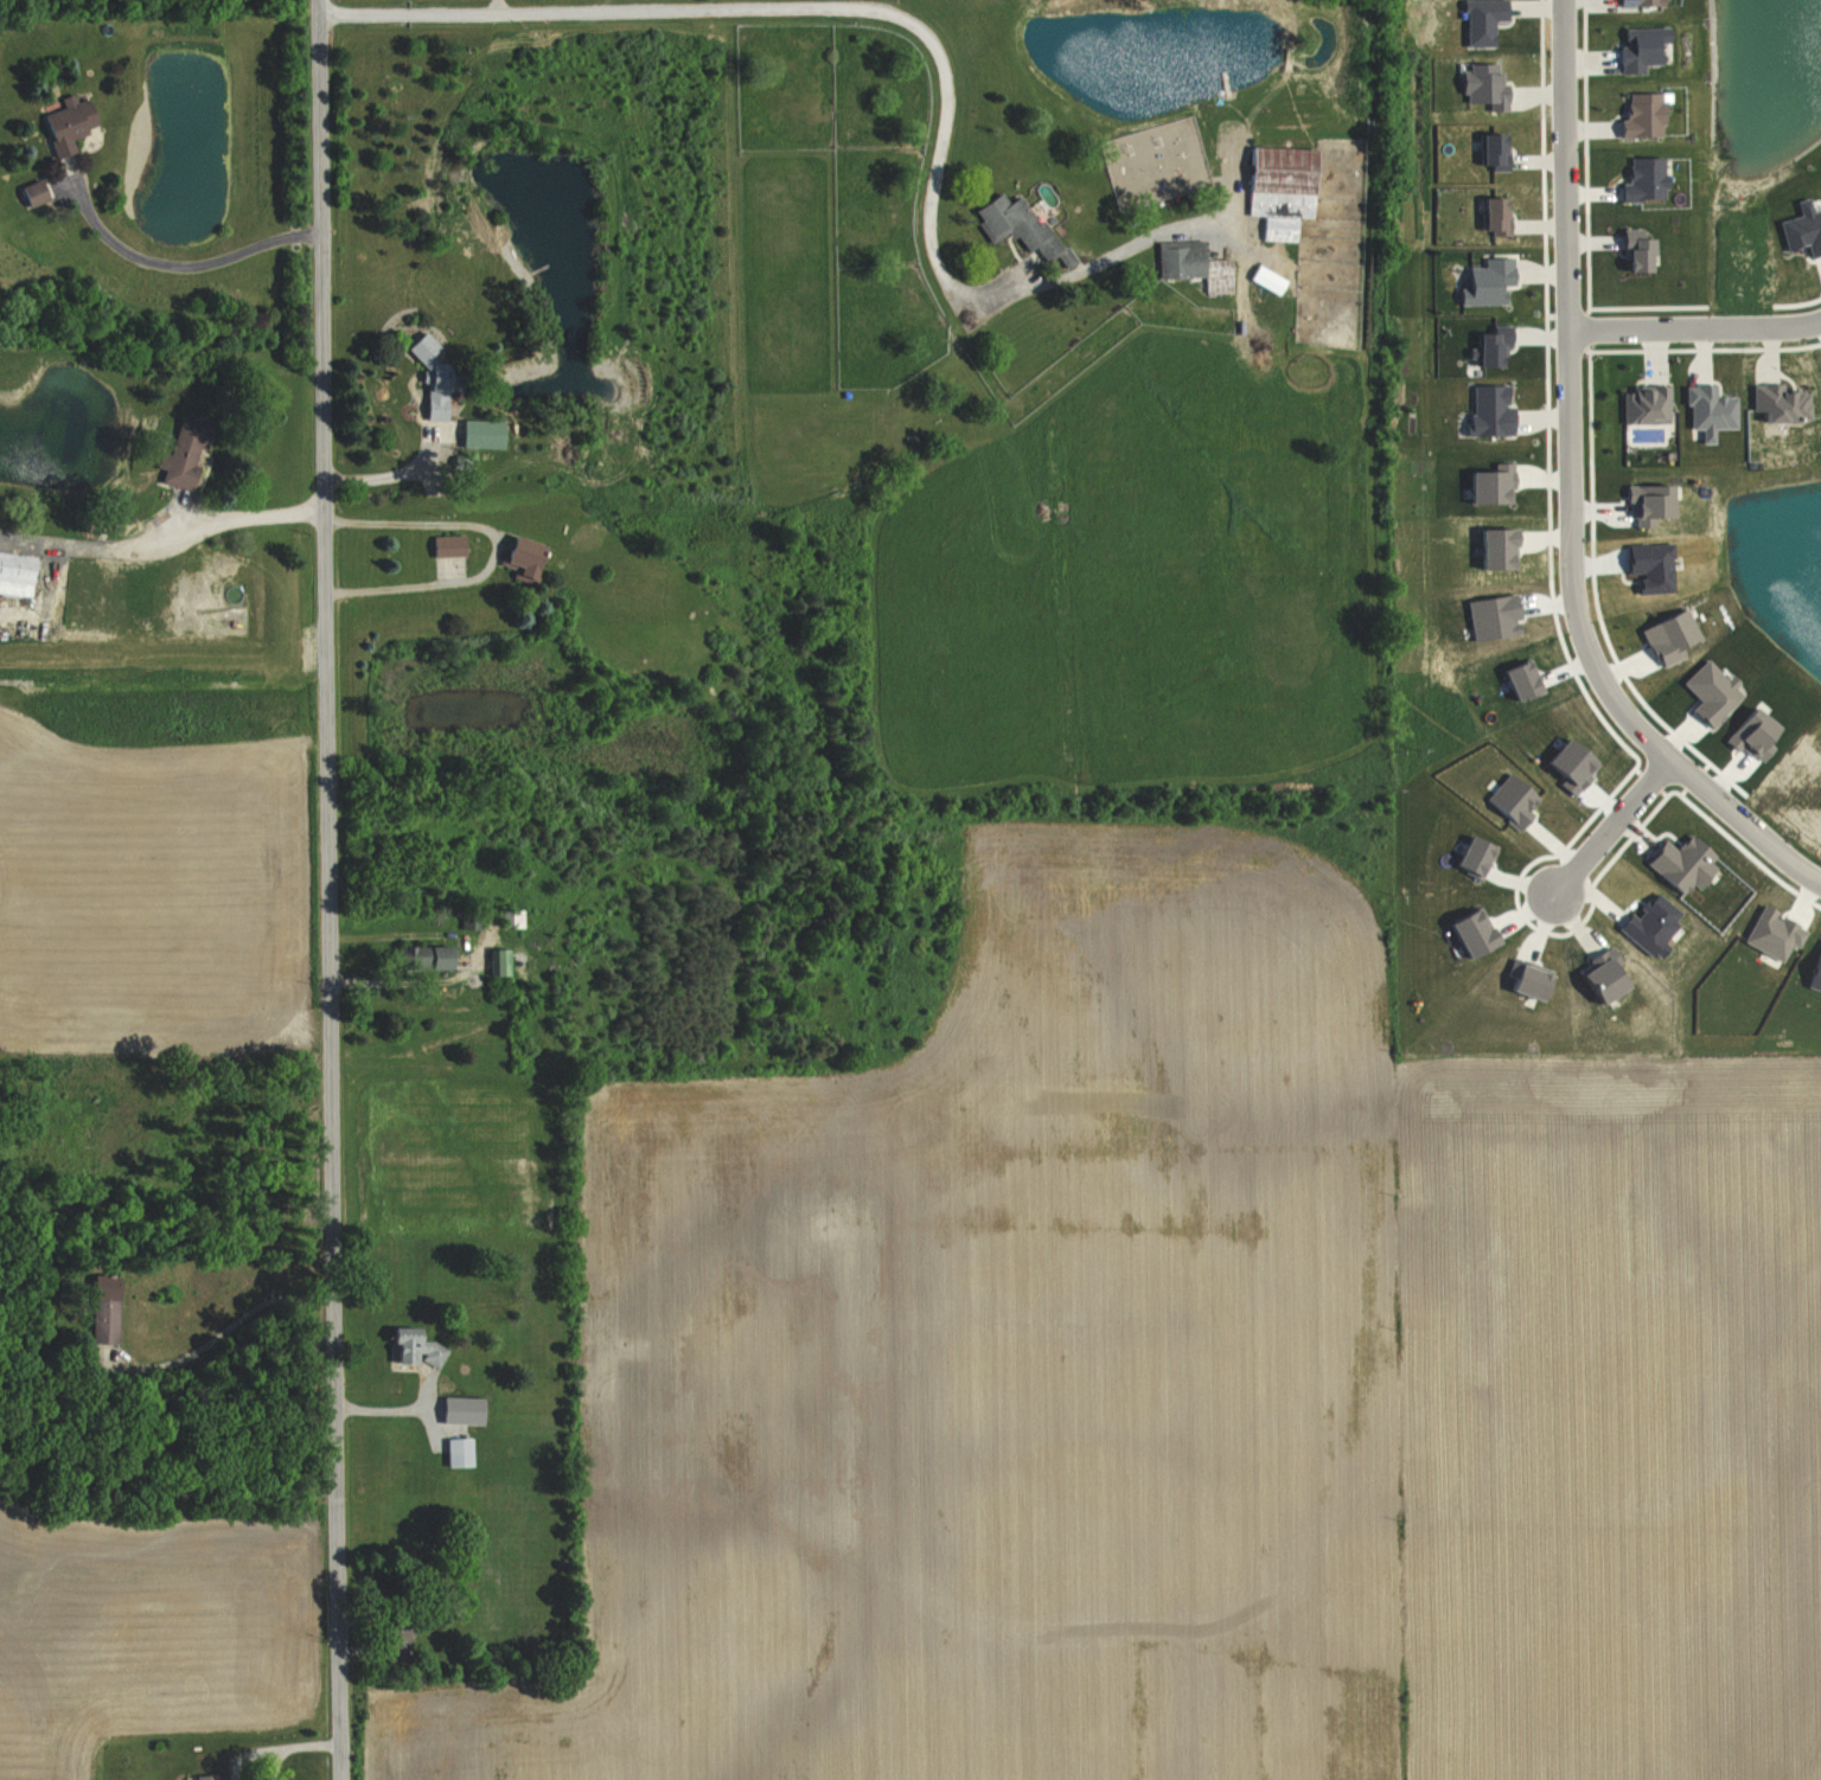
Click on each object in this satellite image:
building: (1635, 2)
road: (792, 7)
building: (1477, 20)
building: (1638, 47)
building: (1481, 85)
building: (1640, 113)
building: (62, 123)
building: (1490, 151)
building: (1642, 179)
building: (1277, 187)
building: (30, 192)
building: (1491, 215)
building: (1016, 226)
building: (1801, 228)
building: (1630, 249)
building: (1188, 263)
road: (184, 265)
building: (1254, 273)
building: (1485, 281)
road: (1694, 327)
building: (1488, 345)
building: (417, 348)
building: (432, 401)
building: (1777, 403)
building: (1642, 405)
building: (1487, 409)
building: (1706, 410)
building: (484, 433)
building: (178, 457)
road: (395, 472)
building: (1487, 484)
road: (1568, 492)
building: (1643, 502)
road: (250, 514)
building: (443, 545)
building: (1491, 548)
road: (493, 549)
building: (515, 556)
building: (1648, 565)
building: (14, 572)
building: (1489, 615)
building: (1666, 636)
building: (1517, 678)
building: (1706, 692)
building: (1747, 734)
building: (1564, 763)
building: (1507, 800)
road: (1612, 825)
building: (1468, 857)
building: (1676, 862)
road: (337, 889)
building: (1647, 924)
building: (1464, 930)
building: (1768, 933)
building: (429, 956)
building: (1812, 973)
building: (1596, 977)
building: (1521, 979)
building: (106, 1307)
road: (235, 1319)
building: (403, 1346)
road: (382, 1409)
building: (458, 1410)
building: (454, 1452)
building: (200, 1776)

